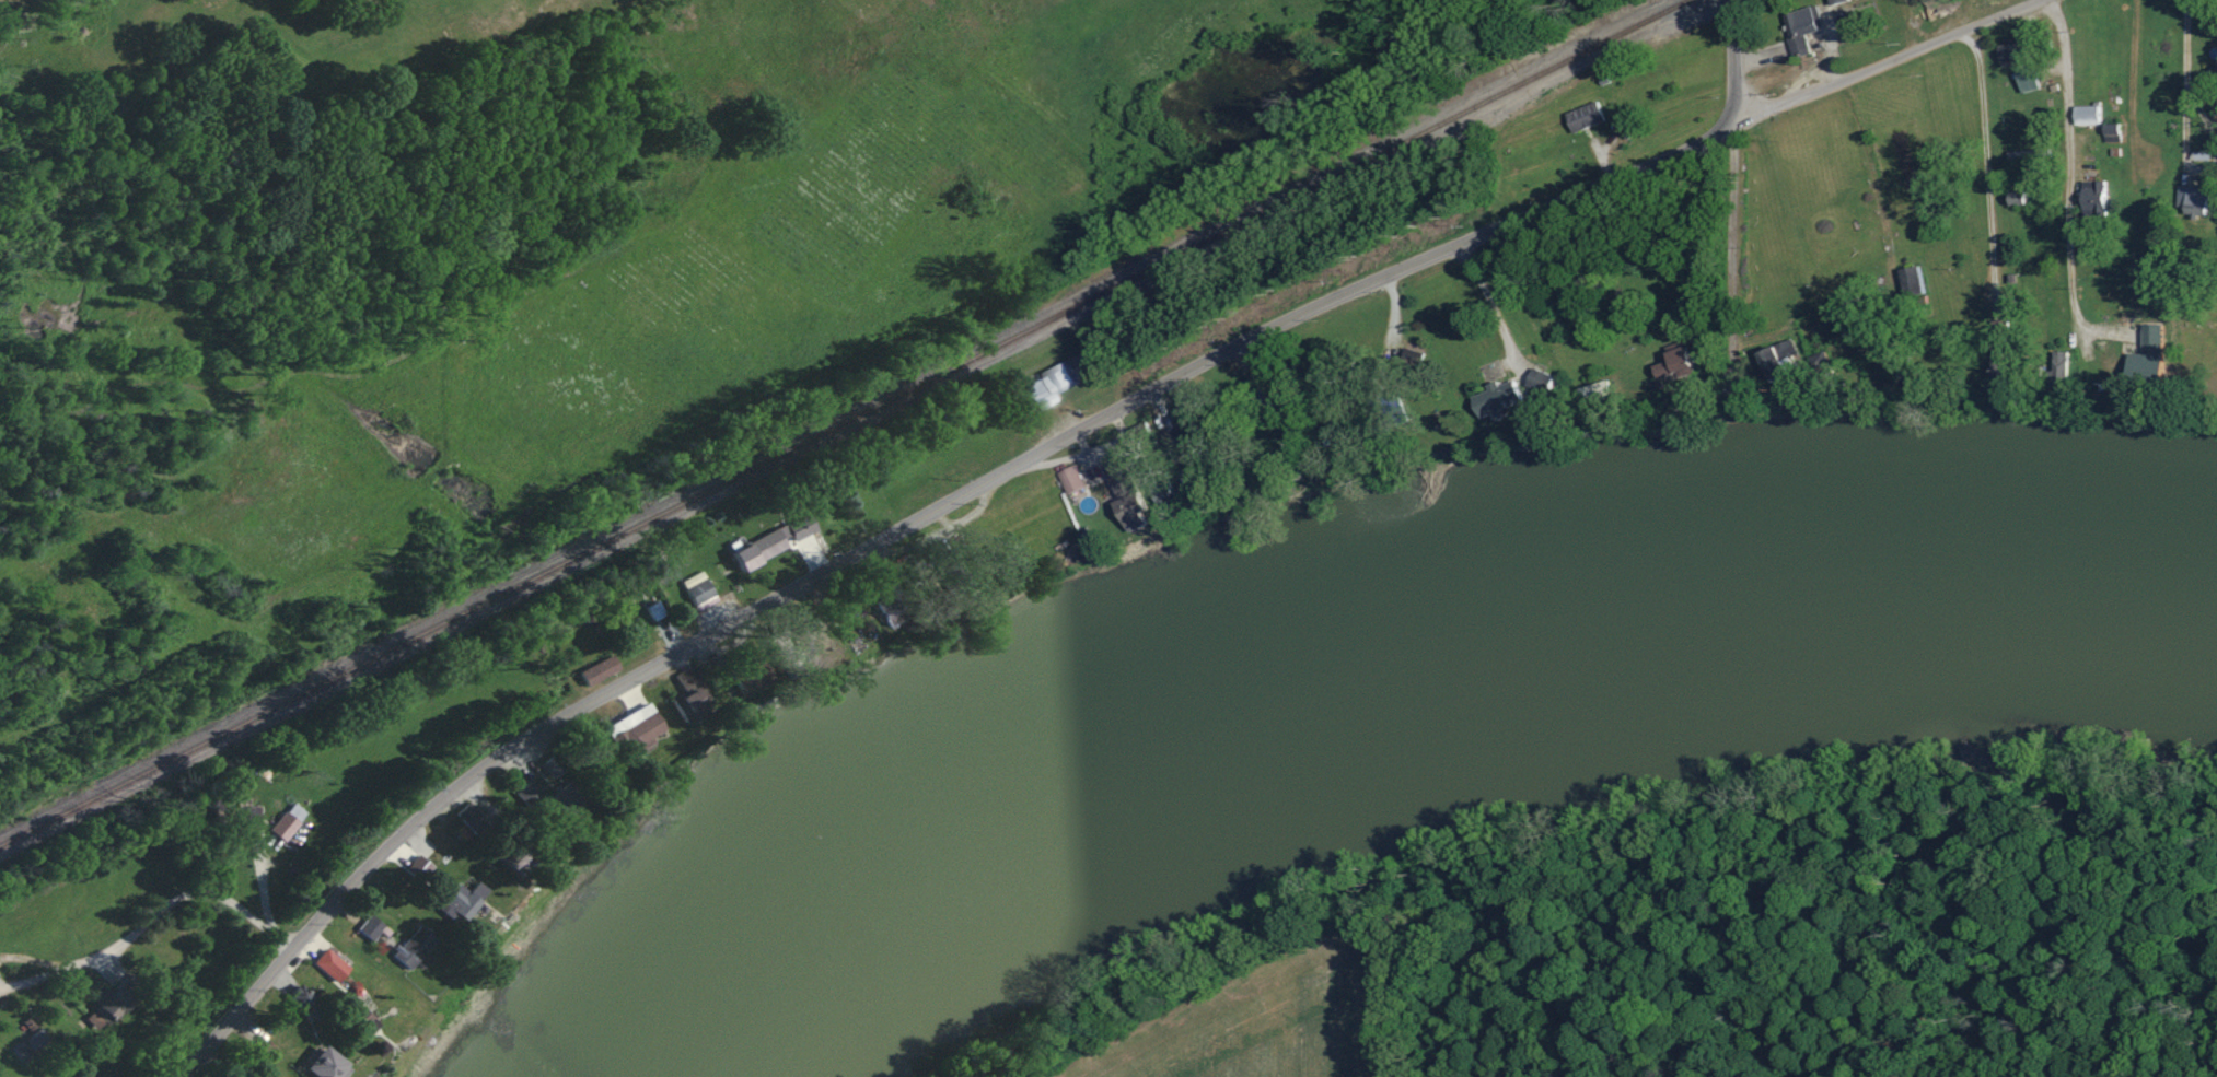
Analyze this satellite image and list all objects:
building: (1837, 1)
building: (1802, 27)
building: (2016, 52)
road: (1888, 62)
building: (2030, 81)
road: (2136, 82)
road: (2191, 85)
building: (2088, 115)
building: (1586, 116)
building: (1627, 126)
building: (2114, 132)
road: (2069, 176)
road: (1878, 183)
road: (1990, 184)
road: (1734, 186)
building: (2096, 197)
building: (2019, 198)
building: (2194, 200)
road: (1475, 244)
building: (1913, 278)
road: (1497, 311)
building: (2000, 327)
building: (2150, 356)
building: (2003, 358)
building: (1678, 361)
building: (1784, 362)
building: (2062, 367)
building: (1541, 379)
building: (1913, 381)
building: (1049, 386)
building: (1599, 389)
building: (1497, 399)
building: (1194, 436)
railway: (856, 444)
building: (1071, 479)
building: (1127, 495)
building: (773, 540)
building: (696, 587)
building: (654, 610)
river: (1376, 657)
road: (657, 660)
building: (597, 669)
building: (690, 693)
building: (632, 730)
building: (549, 766)
building: (546, 798)
building: (244, 815)
building: (468, 816)
building: (287, 821)
building: (419, 869)
road: (189, 895)
building: (463, 899)
building: (371, 927)
building: (413, 948)
building: (329, 964)
road: (1413, 982)
building: (298, 996)
building: (103, 1011)
building: (357, 1021)
building: (26, 1026)
building: (34, 1042)
building: (324, 1065)

